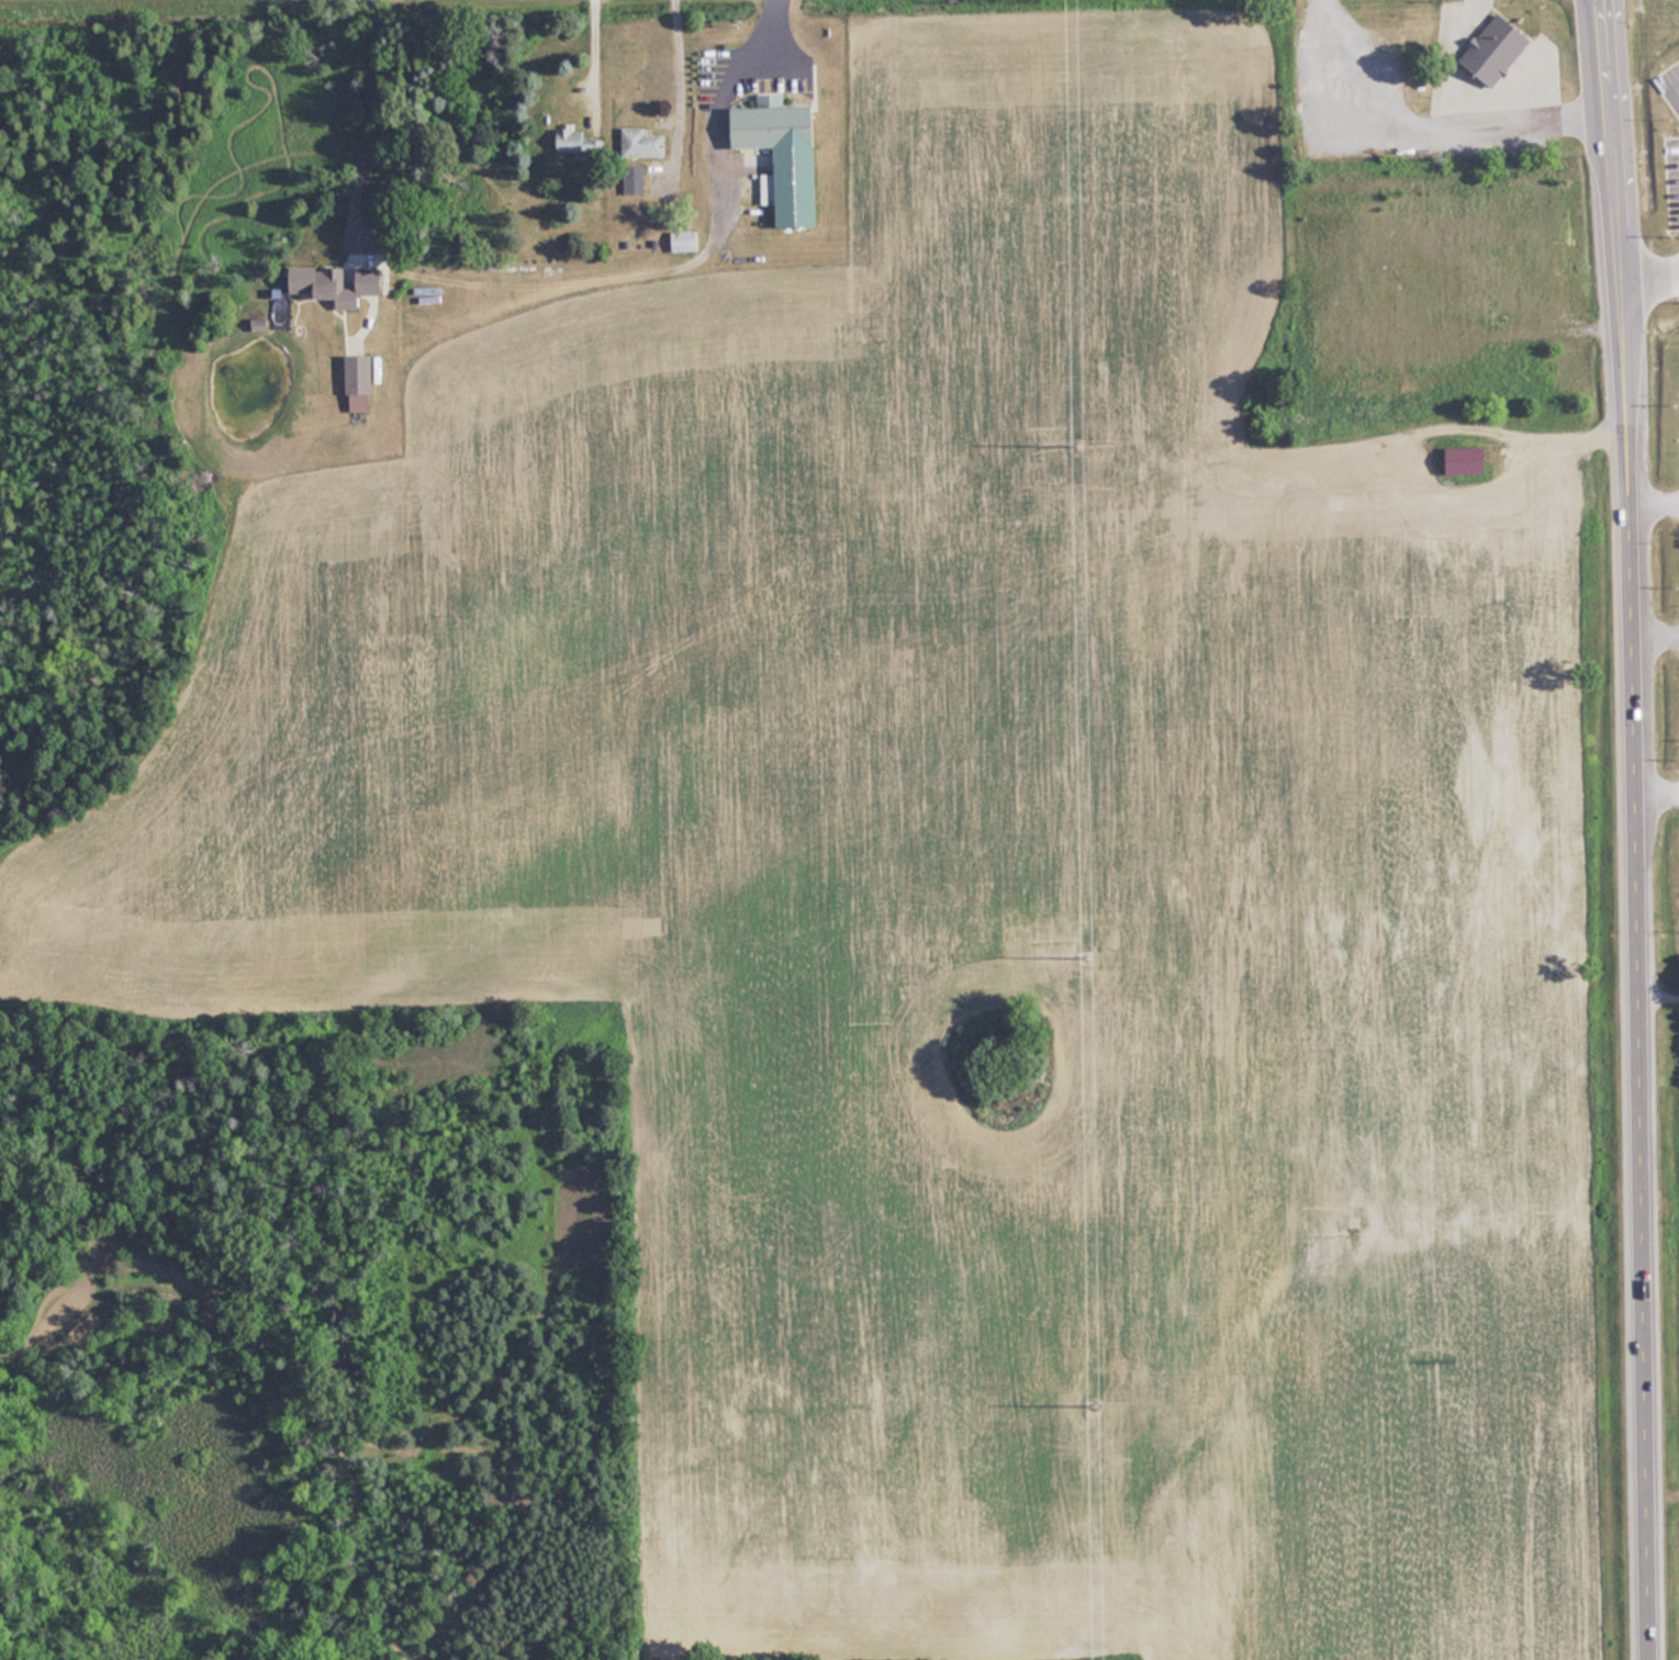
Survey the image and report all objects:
building: (1497, 48)
road: (587, 61)
road: (672, 85)
road: (714, 97)
building: (1383, 105)
road: (361, 123)
building: (775, 125)
building: (577, 141)
building: (1478, 143)
building: (642, 144)
road: (1648, 274)
building: (324, 285)
building: (359, 374)
power tower: (1076, 441)
building: (1467, 461)
road: (1654, 497)
road: (1658, 786)
road: (1637, 829)
power tower: (1084, 953)
road: (1659, 991)
power tower: (1092, 1405)

